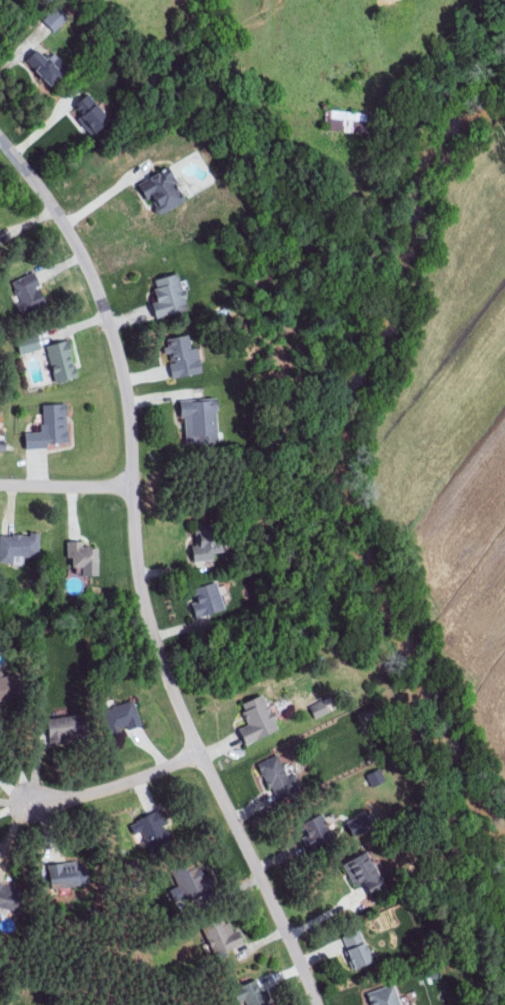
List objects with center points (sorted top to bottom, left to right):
building: (55, 18)
building: (48, 66)
building: (91, 114)
building: (346, 121)
building: (164, 190)
road: (102, 197)
building: (0, 246)
building: (29, 292)
building: (170, 295)
building: (183, 357)
building: (63, 362)
building: (201, 421)
building: (50, 427)
road: (67, 485)
building: (18, 546)
building: (207, 546)
building: (85, 558)
road: (141, 575)
building: (209, 601)
building: (11, 687)
building: (320, 708)
building: (129, 720)
building: (257, 720)
building: (66, 730)
building: (279, 776)
building: (376, 778)
road: (116, 786)
road: (14, 790)
building: (154, 830)
building: (365, 872)
building: (72, 876)
building: (196, 883)
building: (10, 897)
building: (357, 948)
building: (385, 996)

